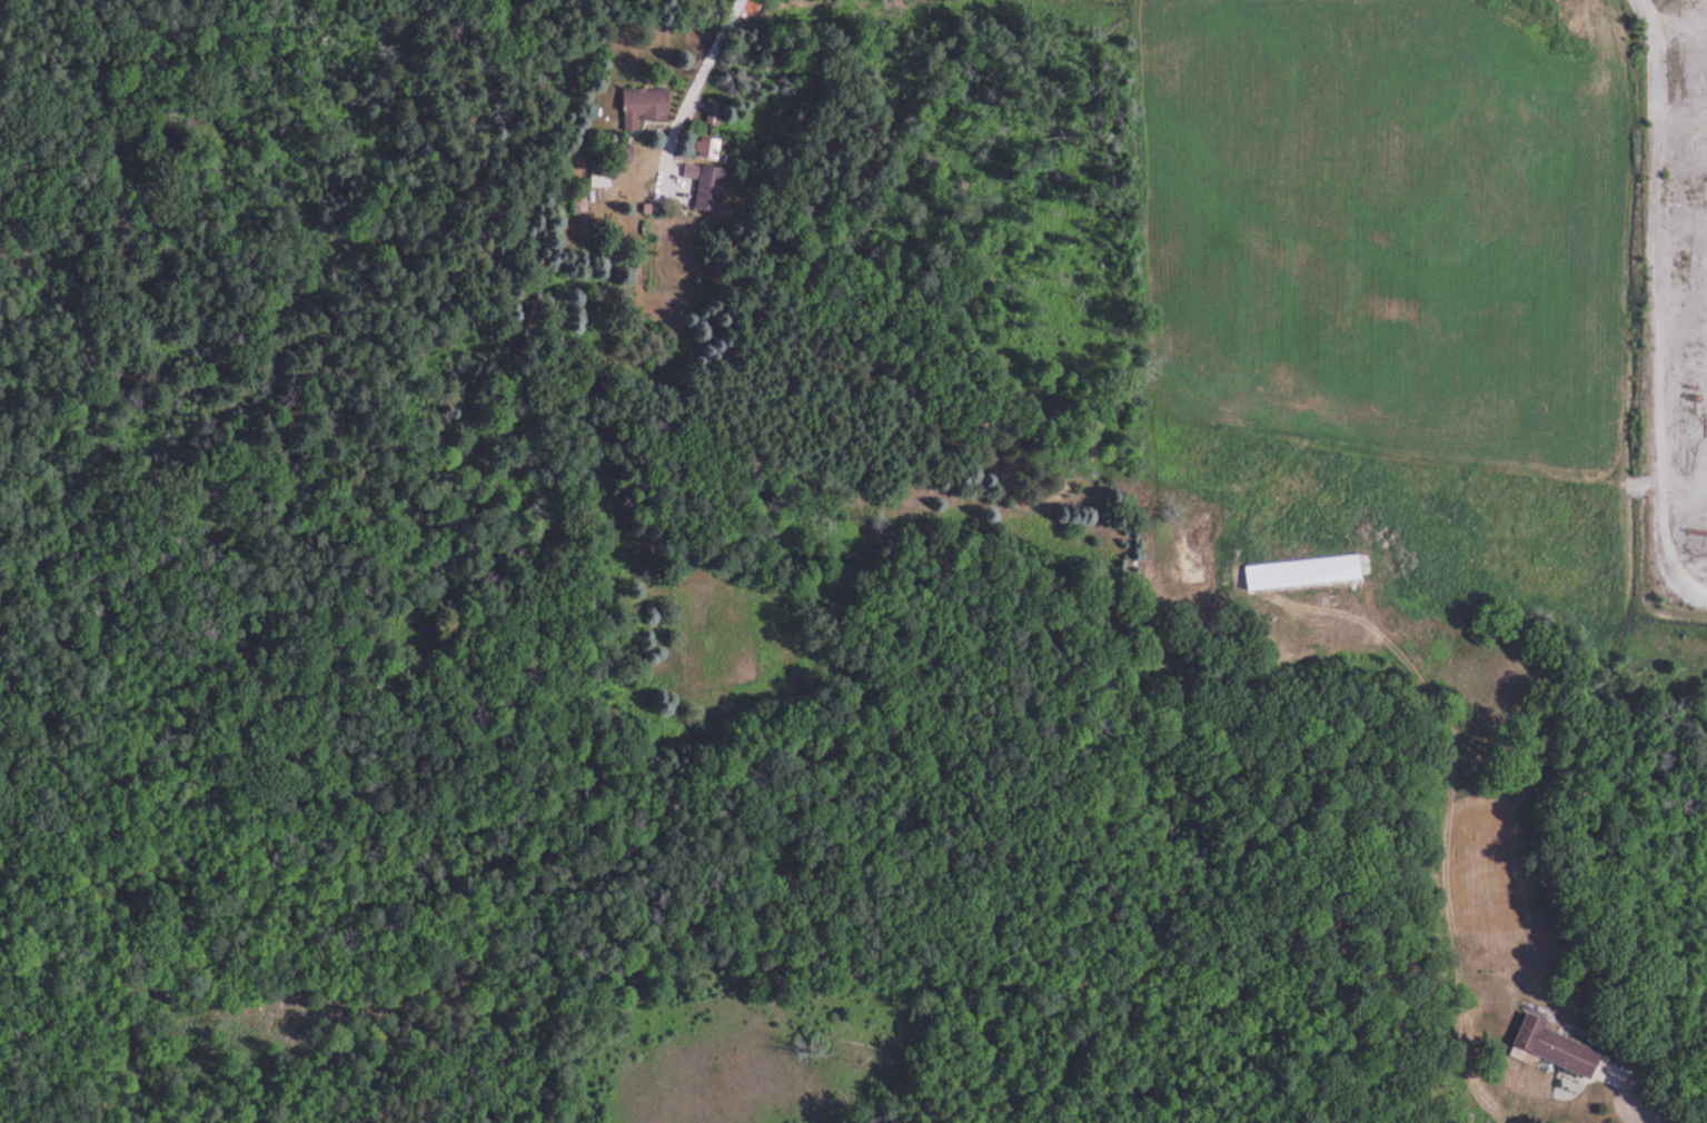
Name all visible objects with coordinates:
building: (646, 107)
building: (716, 113)
building: (707, 147)
building: (708, 186)
building: (1304, 573)
road: (1451, 869)
building: (1557, 1047)

